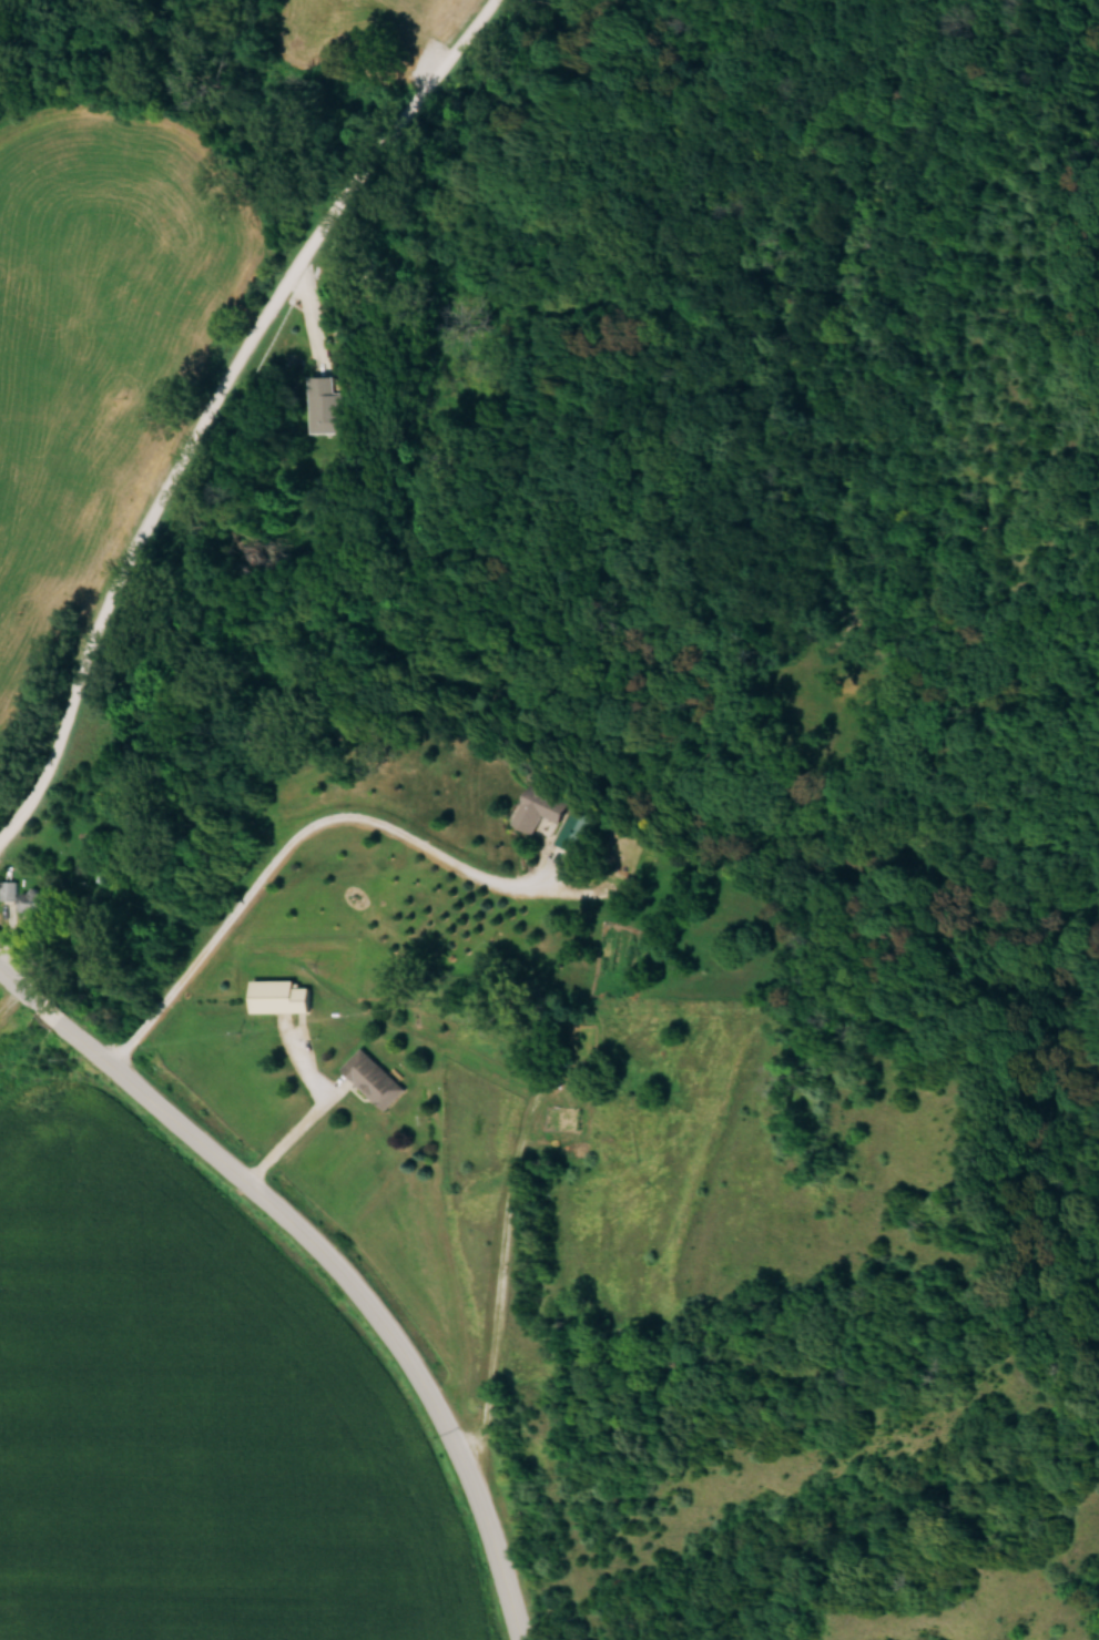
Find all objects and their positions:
road: (212, 398)
building: (328, 400)
building: (9, 888)
building: (35, 899)
road: (20, 985)
building: (279, 994)
road: (51, 1009)
building: (374, 1077)
road: (285, 1132)
road: (343, 1287)
road: (482, 1295)

